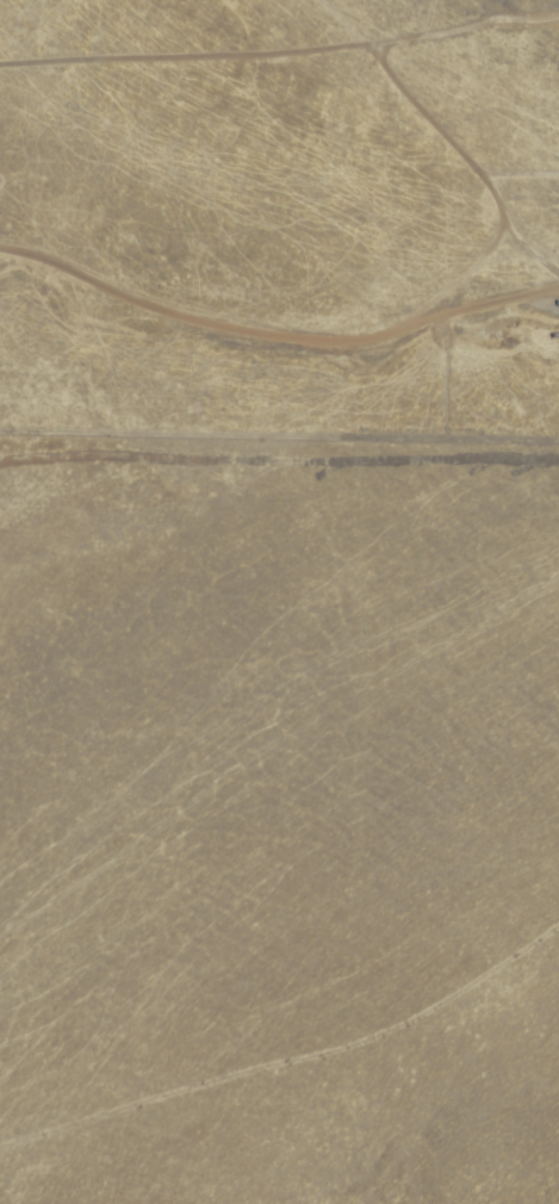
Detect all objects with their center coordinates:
crop: (253, 551)

